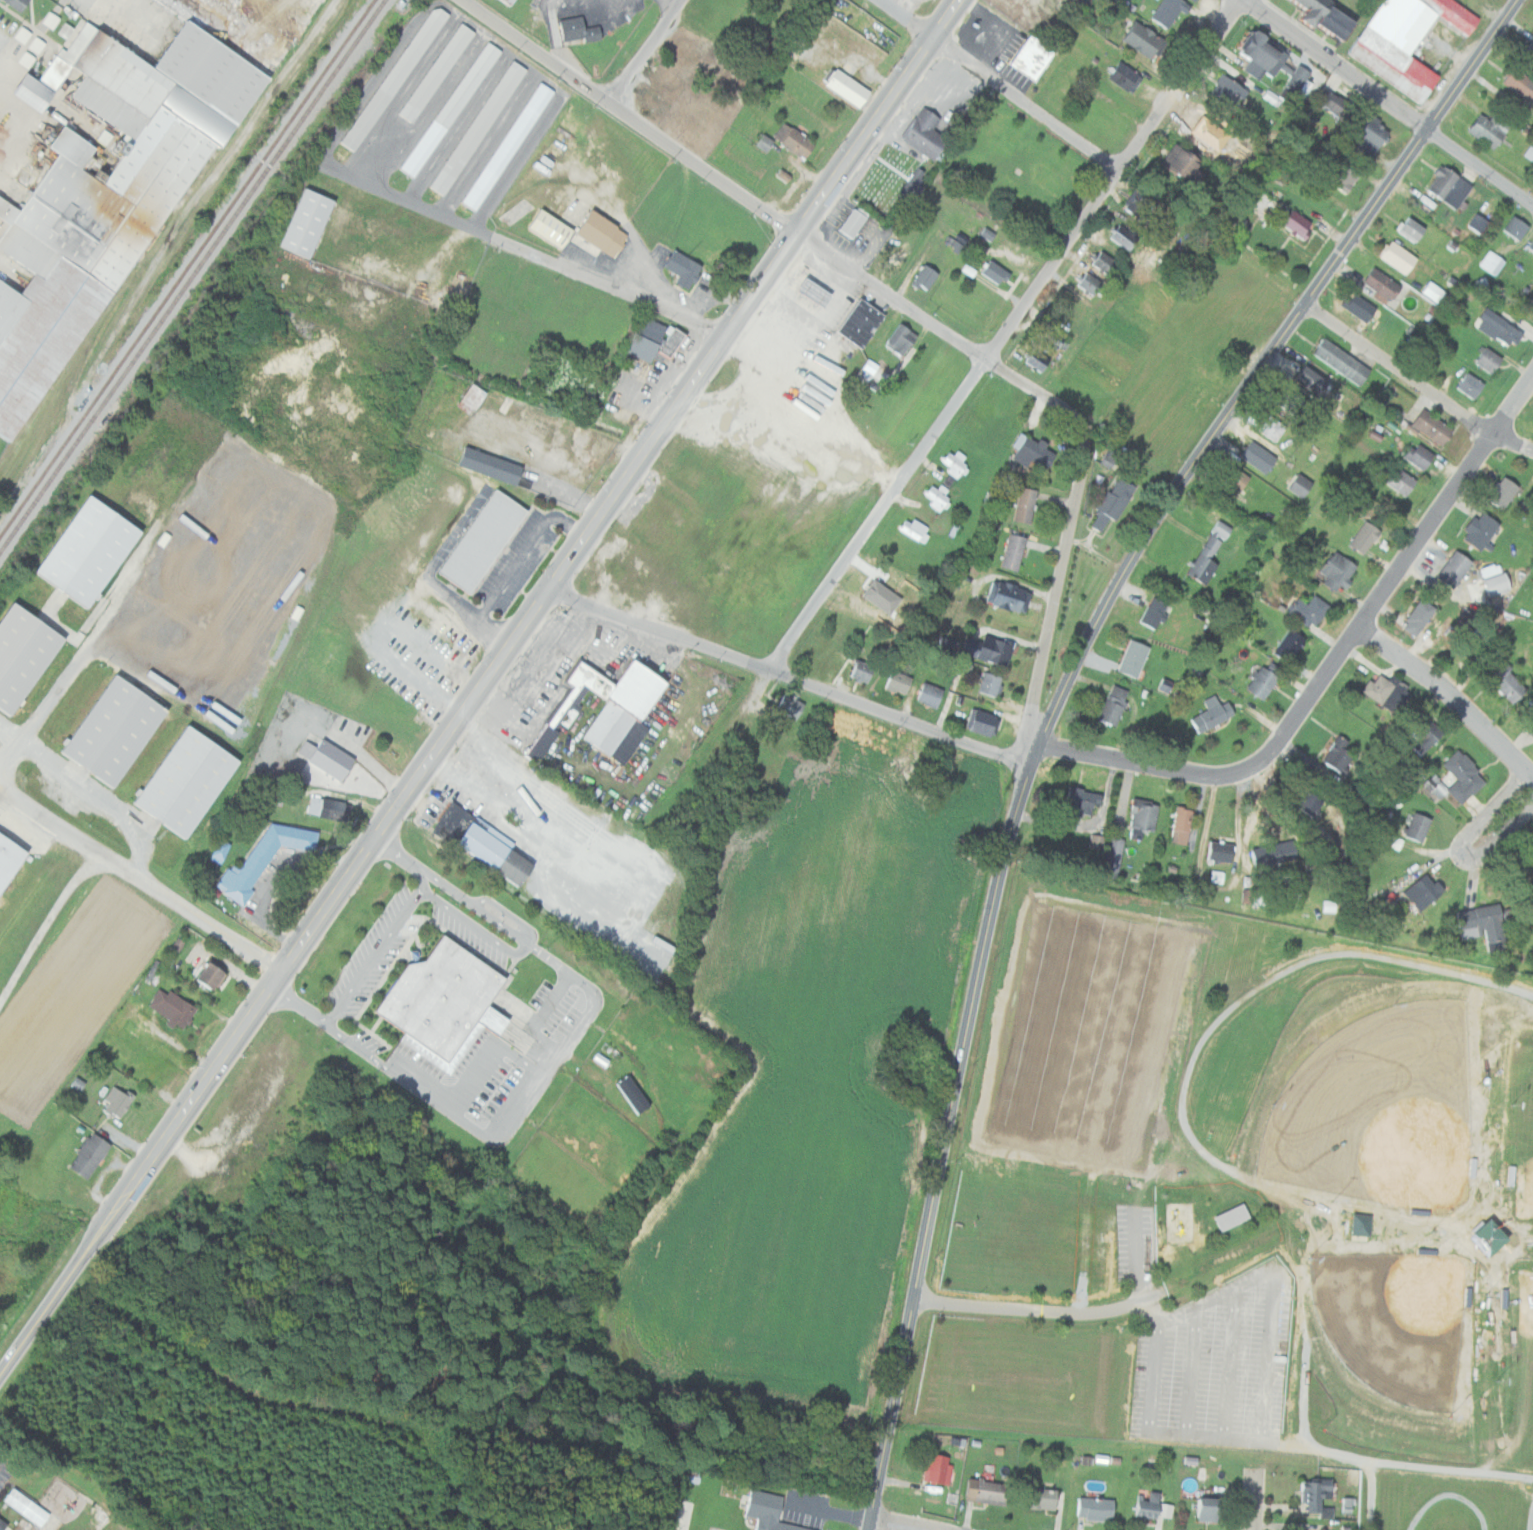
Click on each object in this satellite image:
building: (1191, 0)
building: (513, 1)
building: (21, 3)
building: (1167, 11)
building: (1330, 17)
building: (582, 28)
building: (69, 29)
building: (1136, 38)
building: (1405, 40)
road: (644, 50)
building: (1528, 53)
building: (1263, 54)
building: (1027, 58)
building: (439, 72)
building: (1121, 76)
building: (397, 77)
building: (1295, 82)
road: (997, 83)
building: (1520, 84)
building: (844, 89)
building: (1229, 91)
road: (1388, 101)
building: (1340, 107)
building: (453, 108)
road: (629, 114)
building: (480, 127)
building: (1489, 129)
building: (920, 133)
building: (1371, 135)
building: (797, 139)
building: (767, 142)
building: (511, 145)
building: (1529, 152)
building: (1182, 161)
building: (122, 174)
building: (1344, 177)
building: (912, 183)
building: (1449, 186)
building: (1140, 199)
building: (1264, 204)
building: (312, 221)
building: (857, 222)
building: (1475, 223)
building: (1297, 224)
building: (1515, 228)
building: (1411, 229)
building: (607, 232)
building: (1125, 237)
building: (955, 241)
building: (1530, 245)
road: (518, 248)
building: (1399, 256)
building: (1105, 262)
building: (1491, 262)
railway: (187, 267)
building: (687, 268)
building: (991, 271)
railway: (192, 275)
building: (929, 277)
building: (1381, 284)
building: (1090, 285)
building: (820, 291)
building: (1434, 292)
road: (889, 296)
building: (1358, 305)
building: (864, 322)
building: (1498, 328)
road: (1003, 334)
building: (1051, 337)
building: (658, 339)
building: (906, 339)
building: (1038, 359)
building: (1489, 360)
building: (1342, 362)
building: (872, 366)
road: (1257, 372)
road: (1015, 380)
building: (1313, 380)
road: (1415, 382)
building: (1470, 385)
building: (477, 395)
building: (1293, 402)
building: (1434, 427)
building: (1273, 428)
building: (1033, 452)
building: (1420, 456)
building: (1260, 457)
building: (953, 462)
building: (495, 465)
building: (1238, 479)
building: (952, 480)
building: (1402, 482)
building: (1302, 485)
building: (1502, 492)
building: (937, 495)
building: (1114, 503)
building: (1026, 505)
building: (914, 529)
building: (1481, 530)
building: (1365, 537)
building: (487, 540)
building: (95, 550)
building: (1014, 552)
building: (1210, 553)
road: (1060, 564)
building: (1454, 569)
building: (1340, 570)
building: (1487, 570)
building: (1497, 583)
building: (1008, 596)
building: (1309, 611)
building: (1156, 613)
building: (1419, 617)
building: (1290, 644)
building: (996, 650)
building: (26, 655)
building: (1135, 658)
road: (1332, 662)
building: (862, 671)
road: (790, 675)
building: (899, 682)
building: (1263, 682)
building: (1508, 683)
building: (992, 684)
road: (480, 688)
building: (1388, 692)
building: (930, 694)
road: (1447, 694)
building: (610, 704)
building: (793, 705)
building: (1114, 705)
building: (1531, 708)
building: (1212, 714)
building: (982, 722)
building: (120, 730)
building: (1531, 731)
building: (1427, 736)
building: (633, 741)
building: (1340, 756)
building: (331, 757)
road: (1530, 776)
building: (1464, 777)
building: (192, 781)
building: (1439, 791)
building: (1082, 801)
building: (1311, 803)
building: (330, 807)
building: (1143, 819)
building: (454, 822)
building: (1181, 825)
building: (1418, 827)
building: (1530, 842)
road: (1459, 847)
building: (500, 851)
building: (1221, 851)
building: (1275, 853)
building: (1113, 856)
building: (10, 857)
building: (266, 858)
road: (141, 884)
building: (1424, 891)
road: (473, 923)
building: (1485, 924)
road: (376, 948)
road: (1354, 951)
building: (215, 974)
building: (449, 1003)
building: (175, 1006)
road: (540, 1017)
road: (487, 1049)
park: (1317, 1054)
road: (547, 1067)
building: (637, 1093)
building: (121, 1101)
building: (1392, 1141)
park: (1529, 1143)
road: (944, 1146)
building: (93, 1155)
park: (1458, 1177)
park: (1250, 1200)
building: (1242, 1213)
building: (1228, 1217)
building: (1357, 1224)
park: (1024, 1226)
parking lot: (1146, 1240)
road: (1150, 1247)
road: (1326, 1255)
building: (1383, 1277)
road: (1342, 1296)
road: (931, 1297)
road: (1157, 1299)
road: (1056, 1311)
road: (1188, 1322)
road: (1166, 1327)
road: (1278, 1359)
parking lot: (1228, 1362)
road: (1241, 1362)
park: (1428, 1367)
park: (1531, 1367)
park: (1523, 1369)
road: (1202, 1370)
park: (1027, 1374)
road: (1227, 1431)
road: (1422, 1464)
building: (938, 1469)
building: (987, 1491)
road: (1460, 1491)
building: (1315, 1493)
building: (1042, 1498)
road: (1255, 1499)
building: (1345, 1504)
building: (1148, 1505)
building: (28, 1506)
building: (1095, 1508)
building: (1209, 1509)
building: (768, 1512)
building: (4, 1522)
road: (893, 1526)

